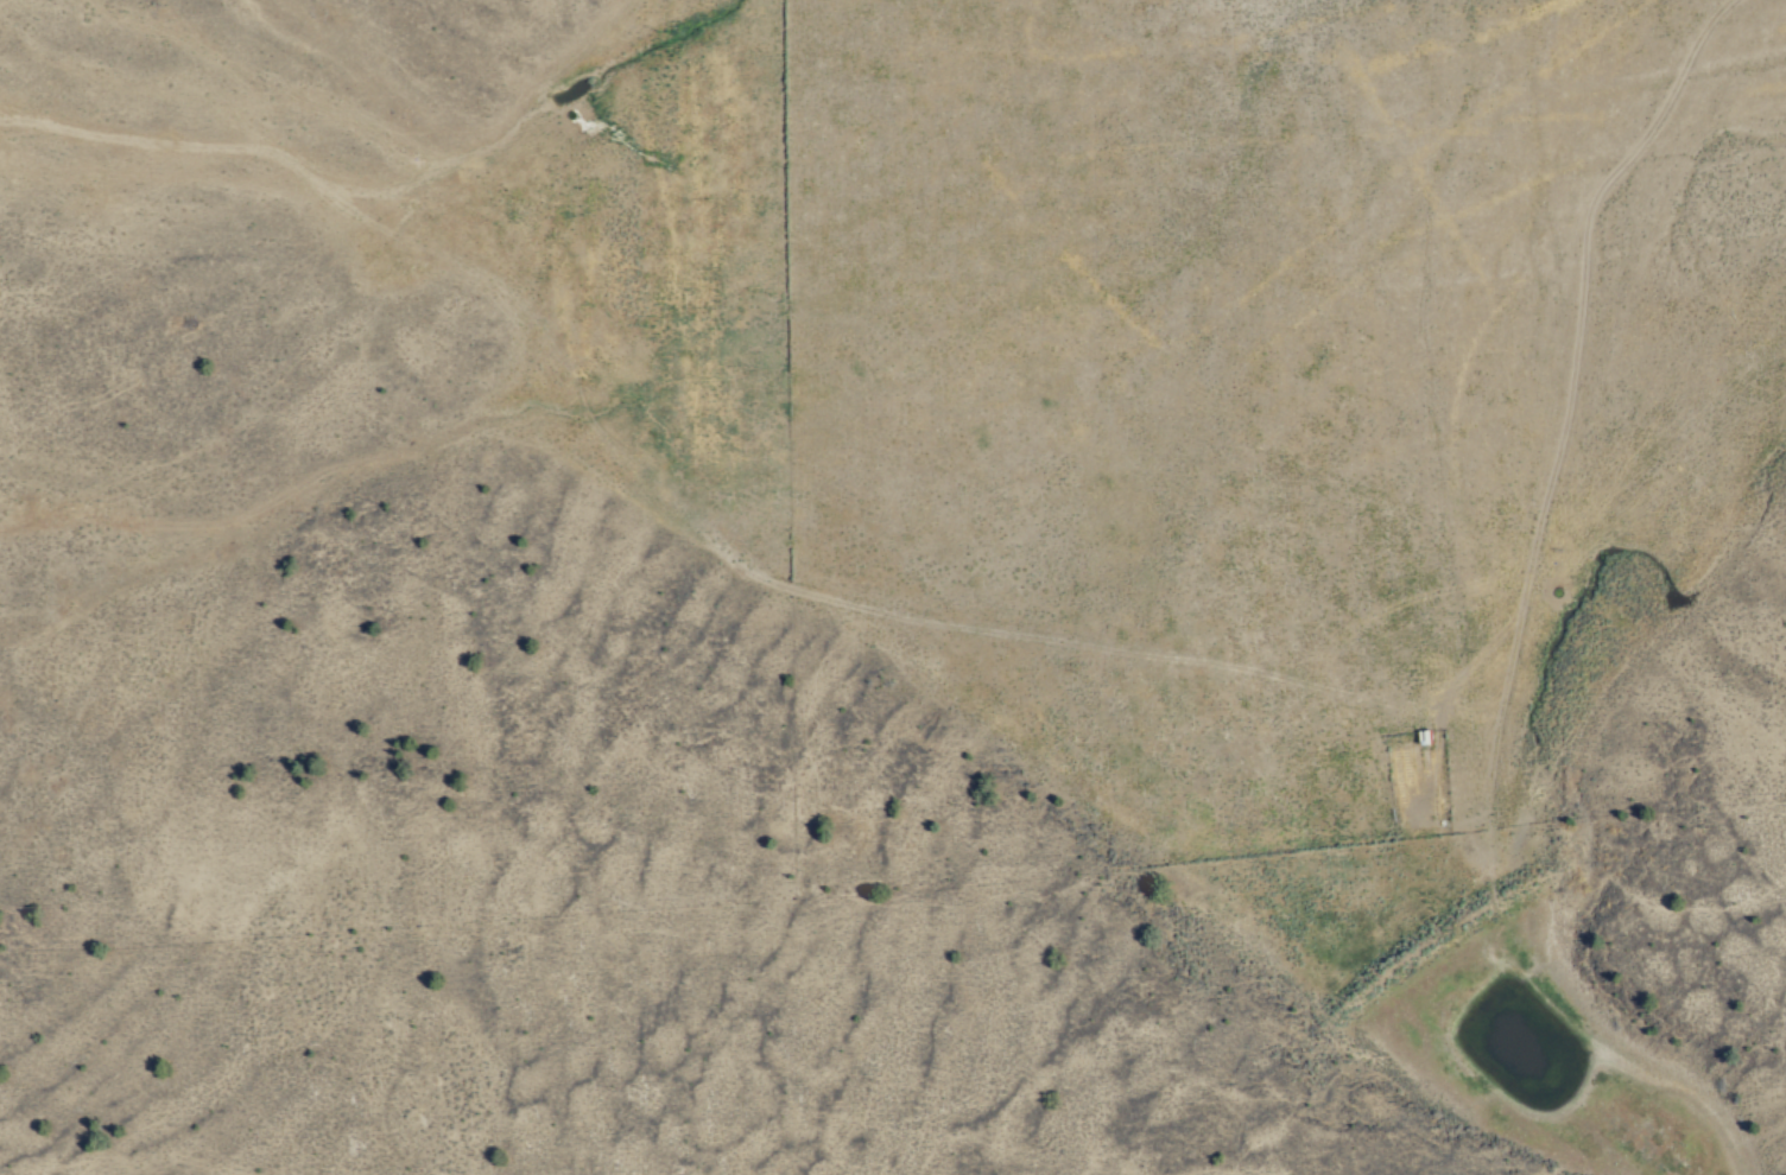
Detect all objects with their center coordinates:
dam: (1432, 939)

